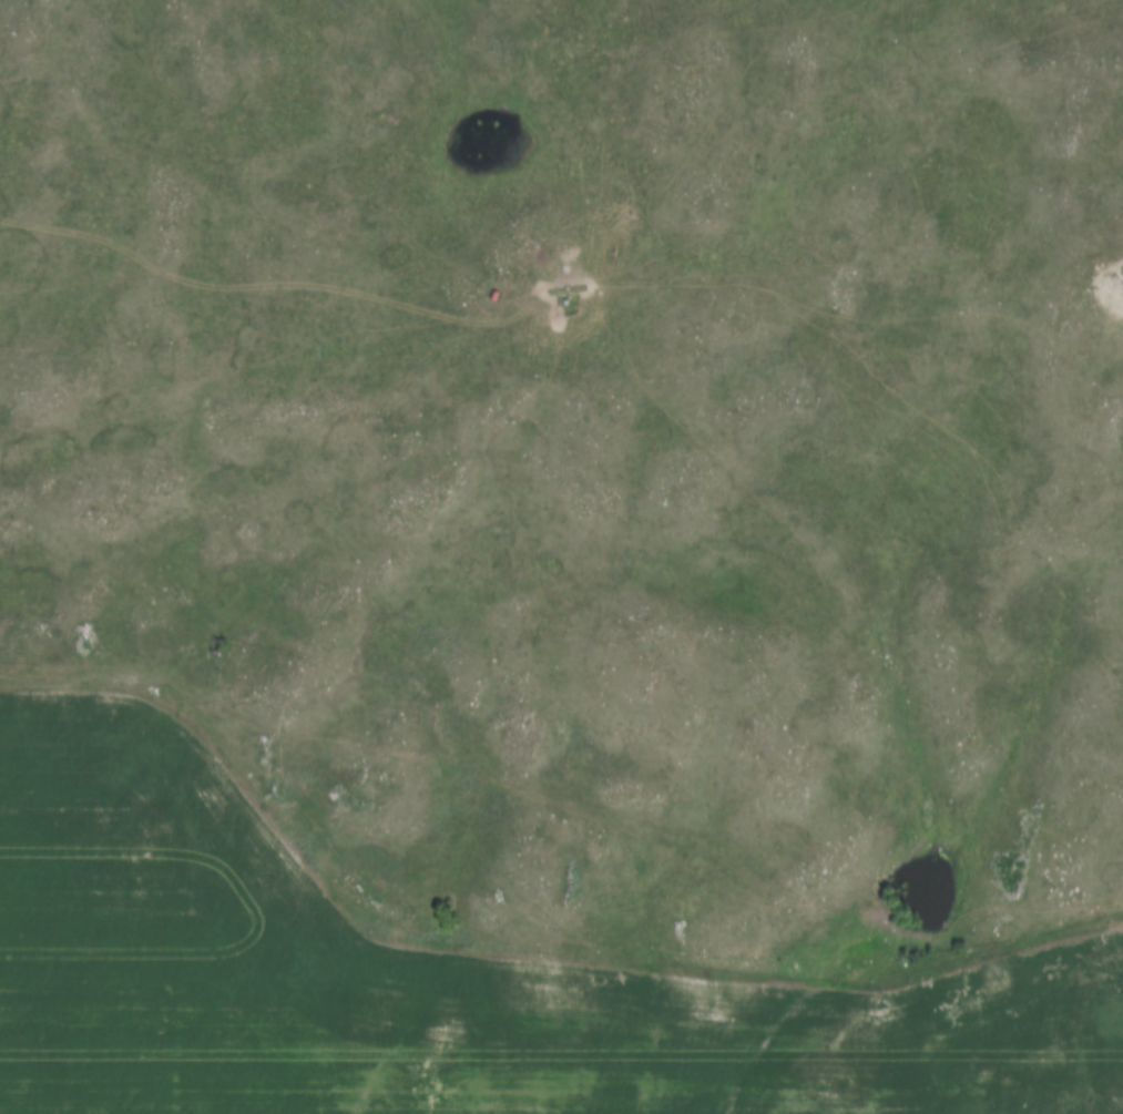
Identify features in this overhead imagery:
crop: (432, 978)

